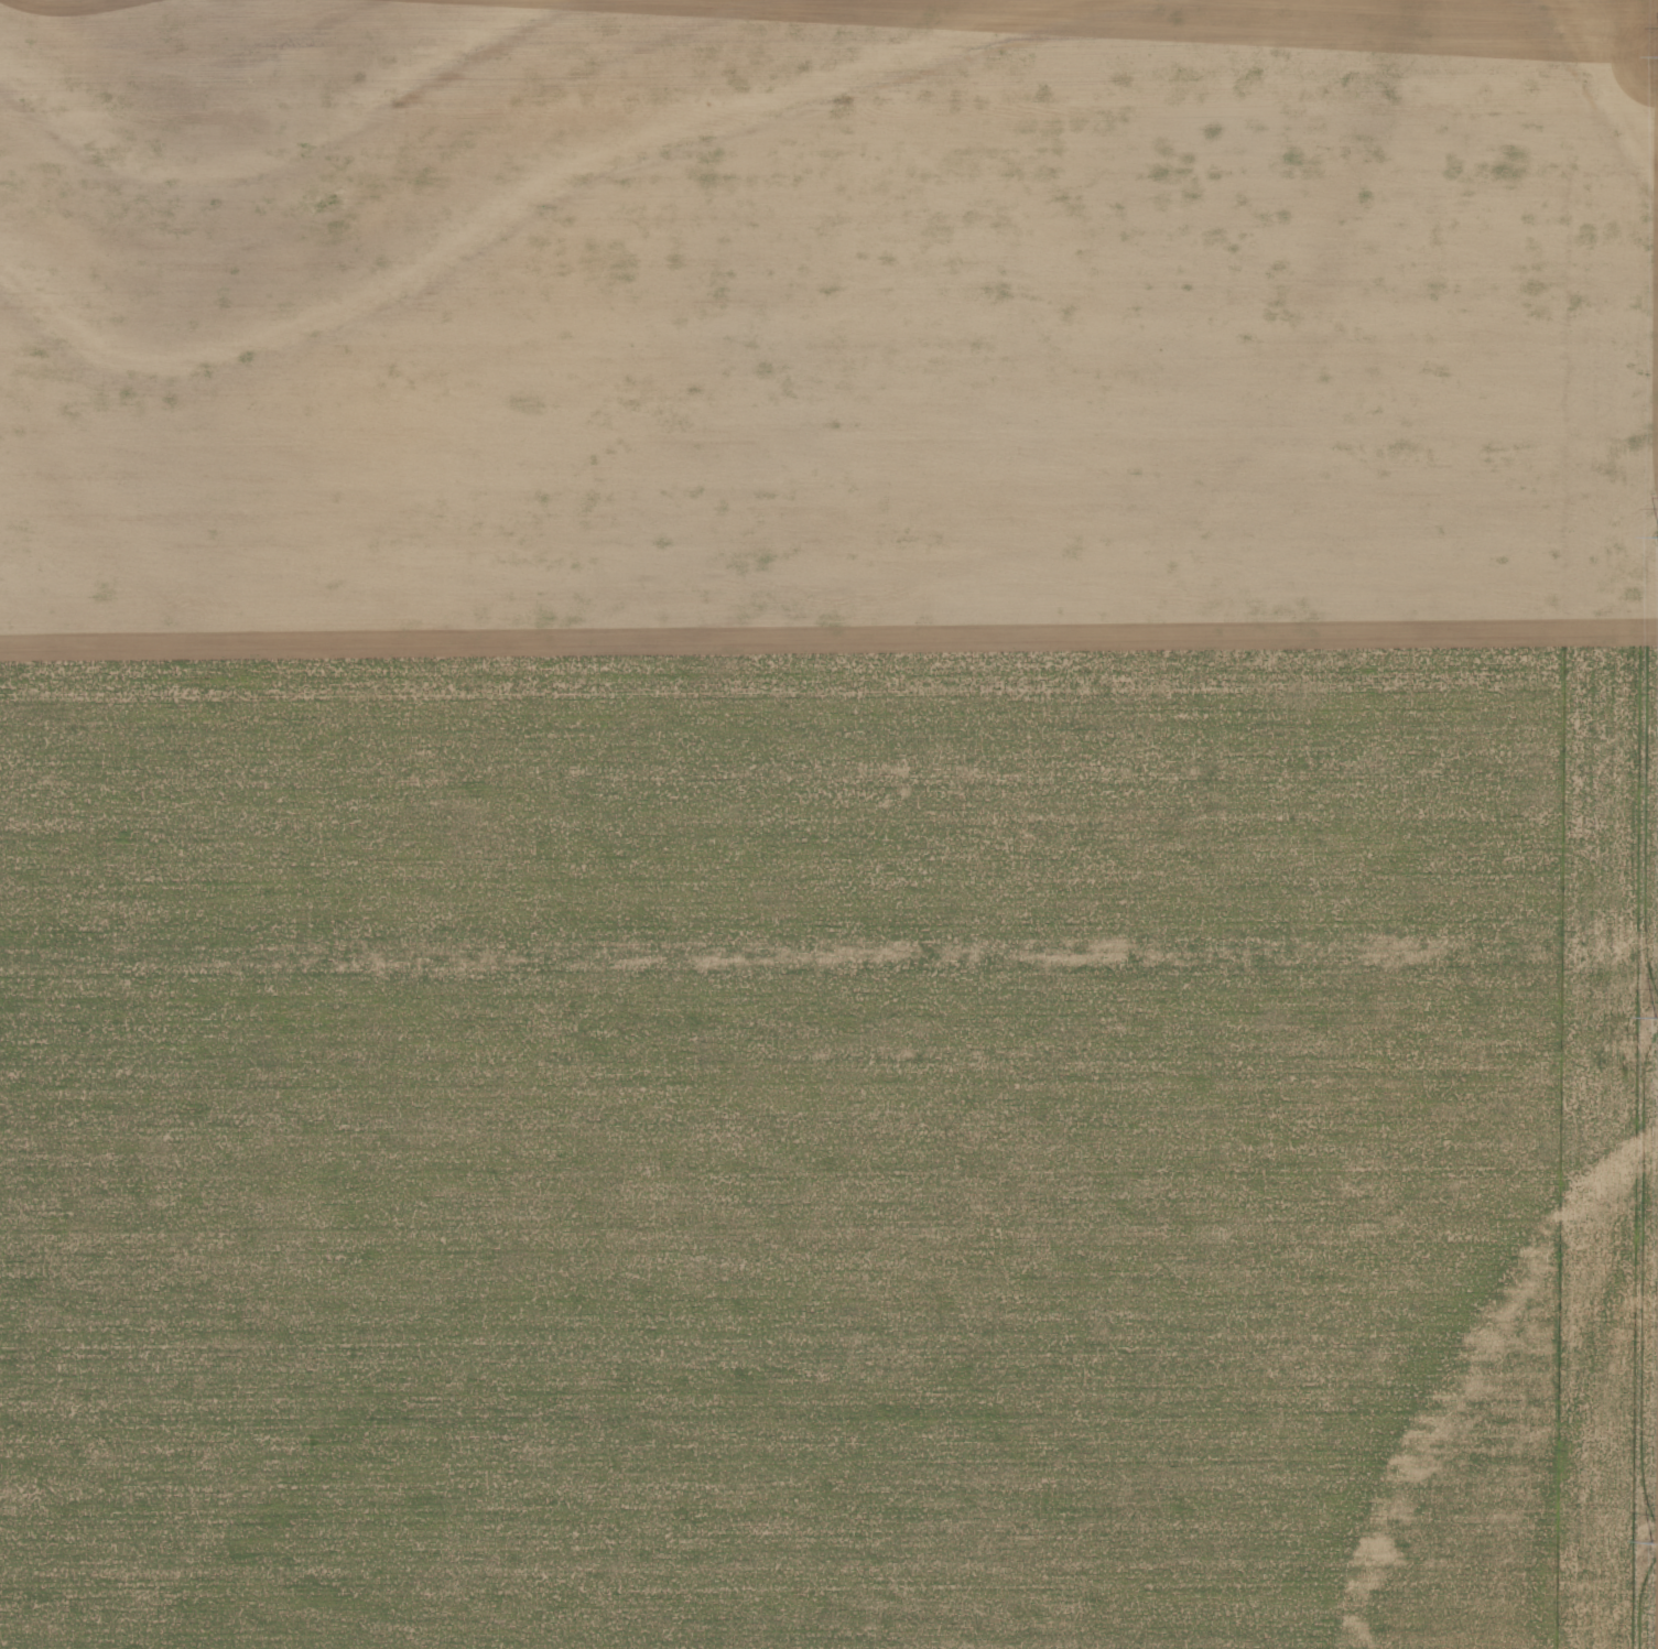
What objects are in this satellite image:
power tower: (1657, 538)
power tower: (1654, 1017)
power tower: (1649, 1541)

